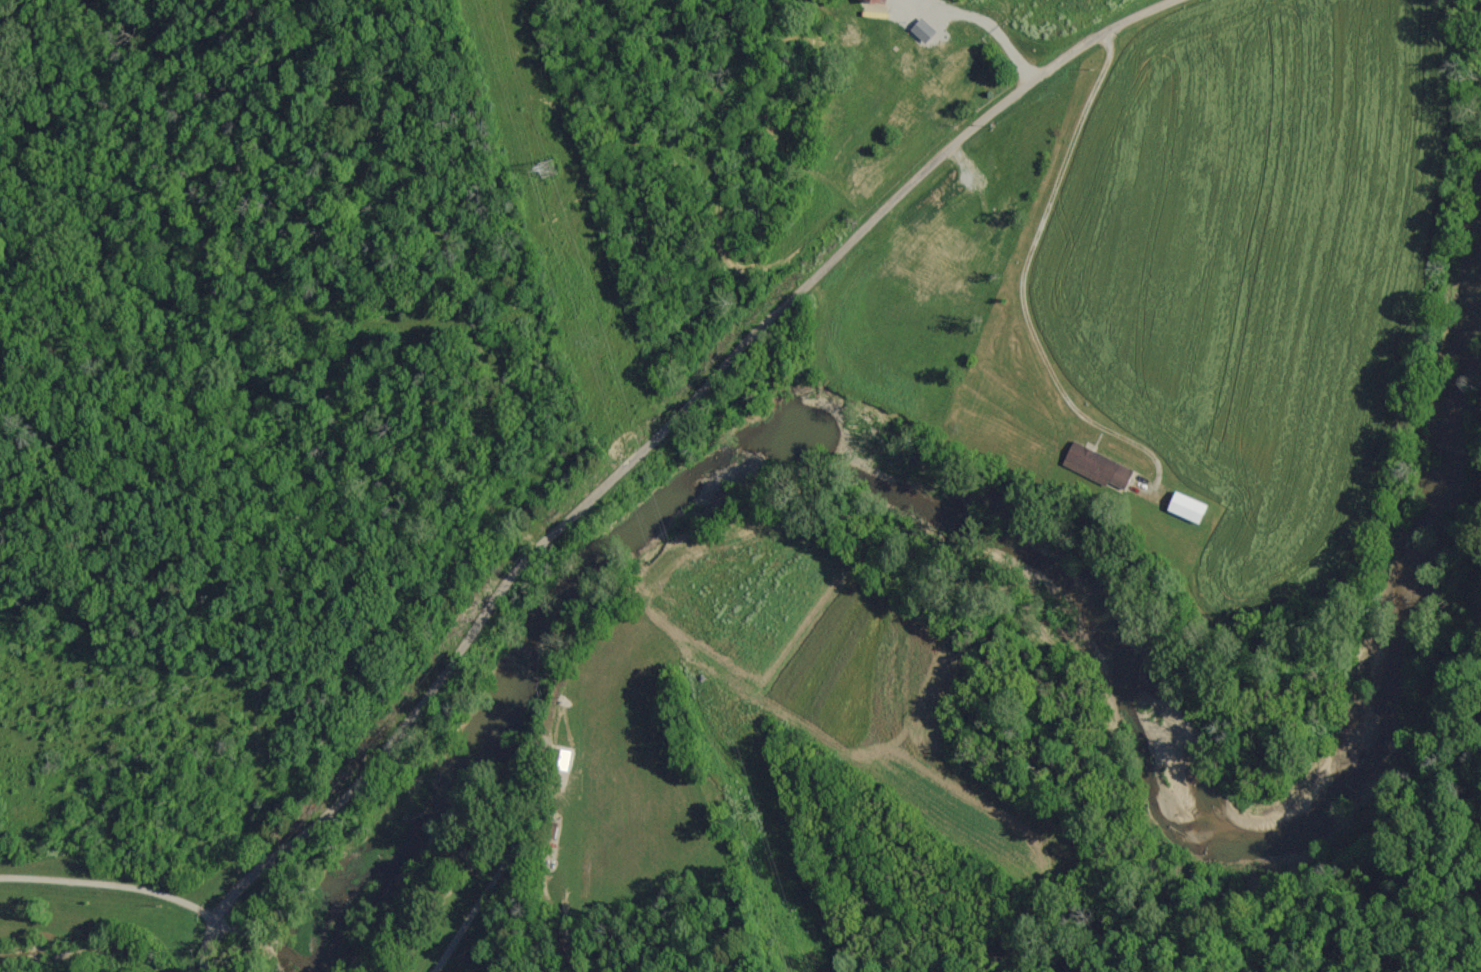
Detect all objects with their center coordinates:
building: (868, 1)
building: (966, 66)
power tower: (524, 171)
building: (938, 201)
road: (642, 448)
building: (1094, 463)
building: (1194, 508)
road: (112, 879)

